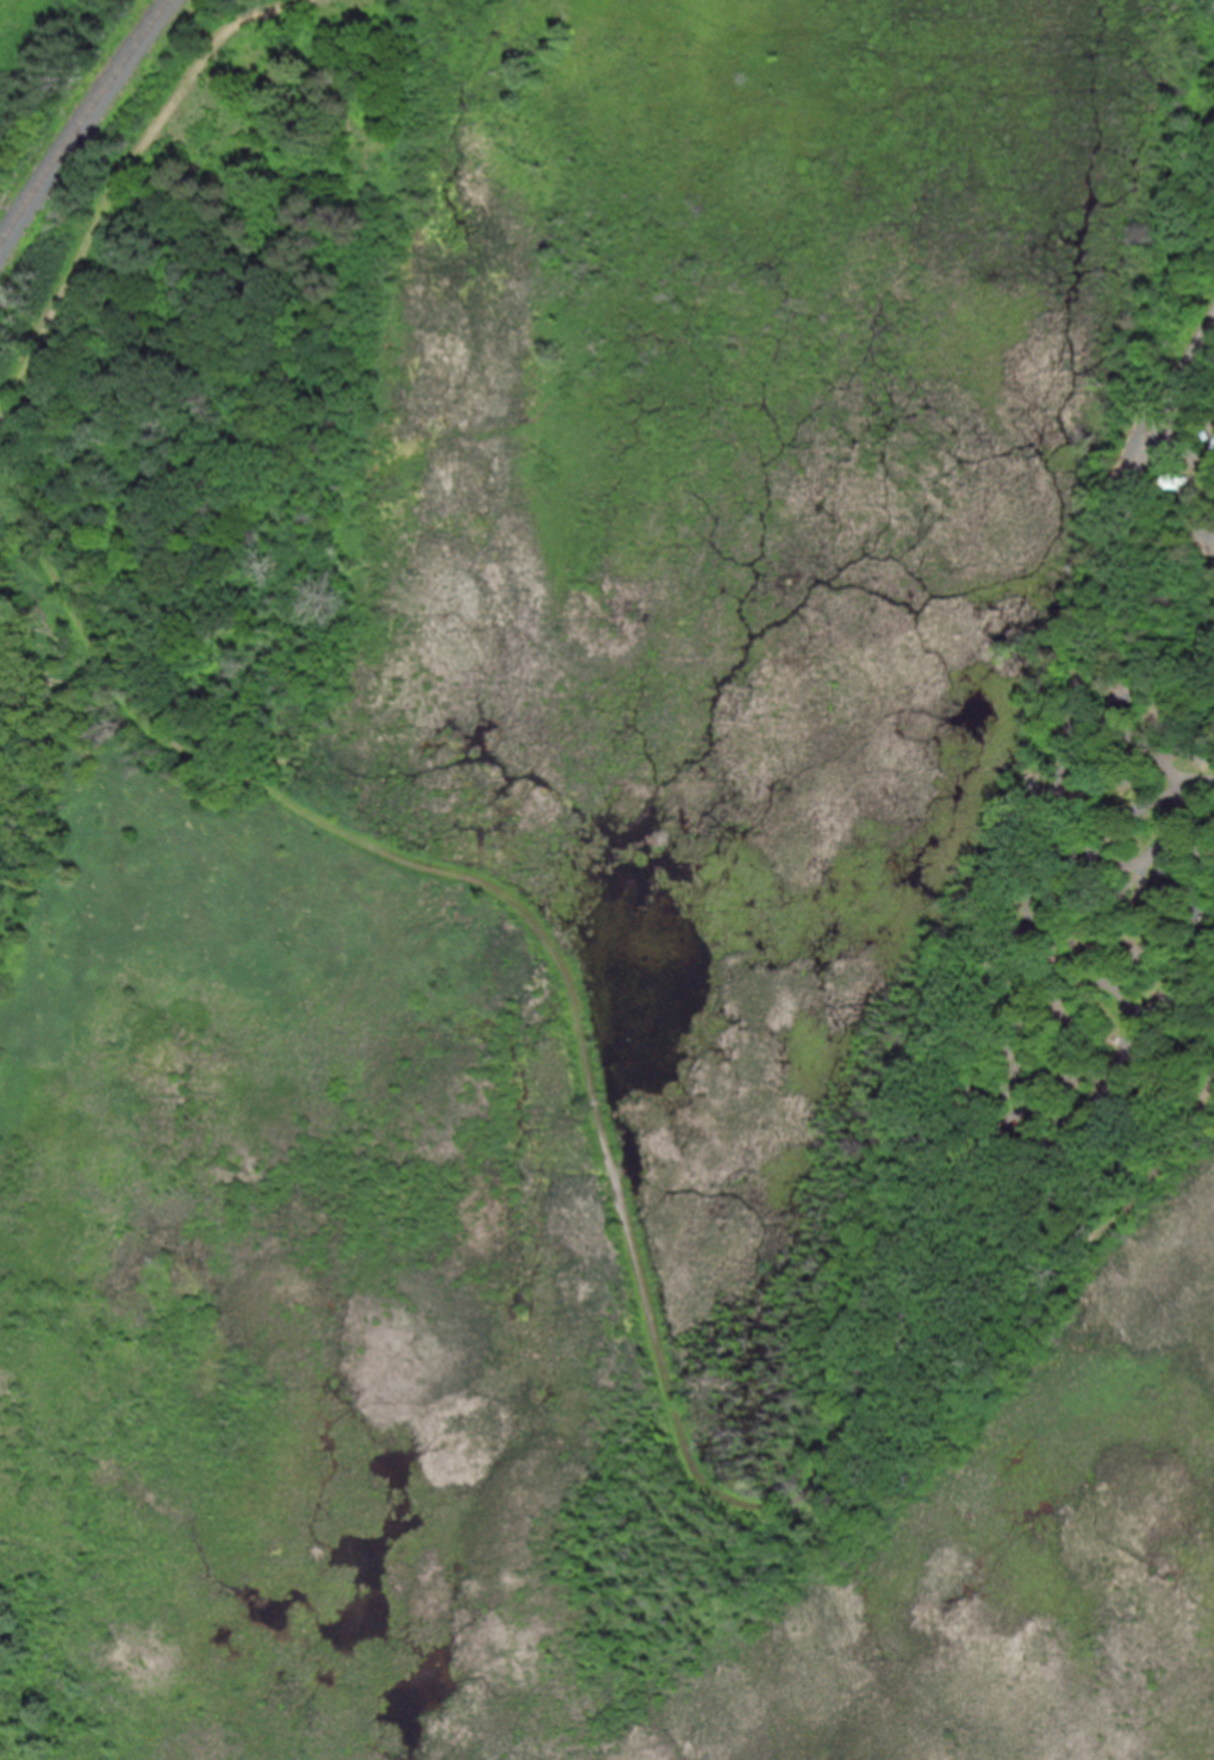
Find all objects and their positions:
railway: (82, 125)
road: (120, 186)
road: (1178, 379)
road: (1179, 459)
road: (1171, 811)
park: (606, 879)
road: (1032, 910)
road: (618, 1193)

